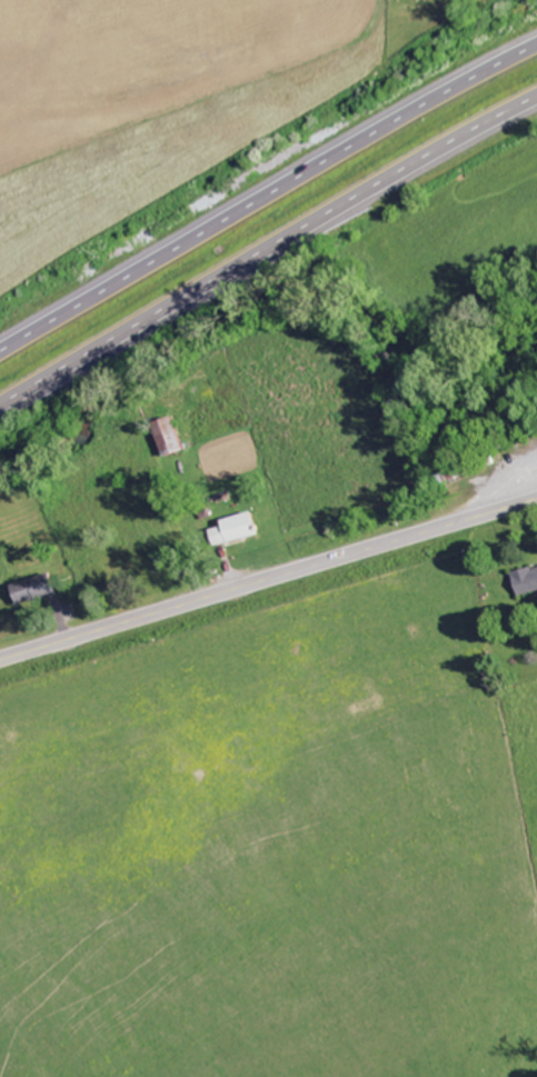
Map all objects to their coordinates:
road: (267, 197)
road: (267, 248)
road: (268, 578)
road: (23, 1031)

